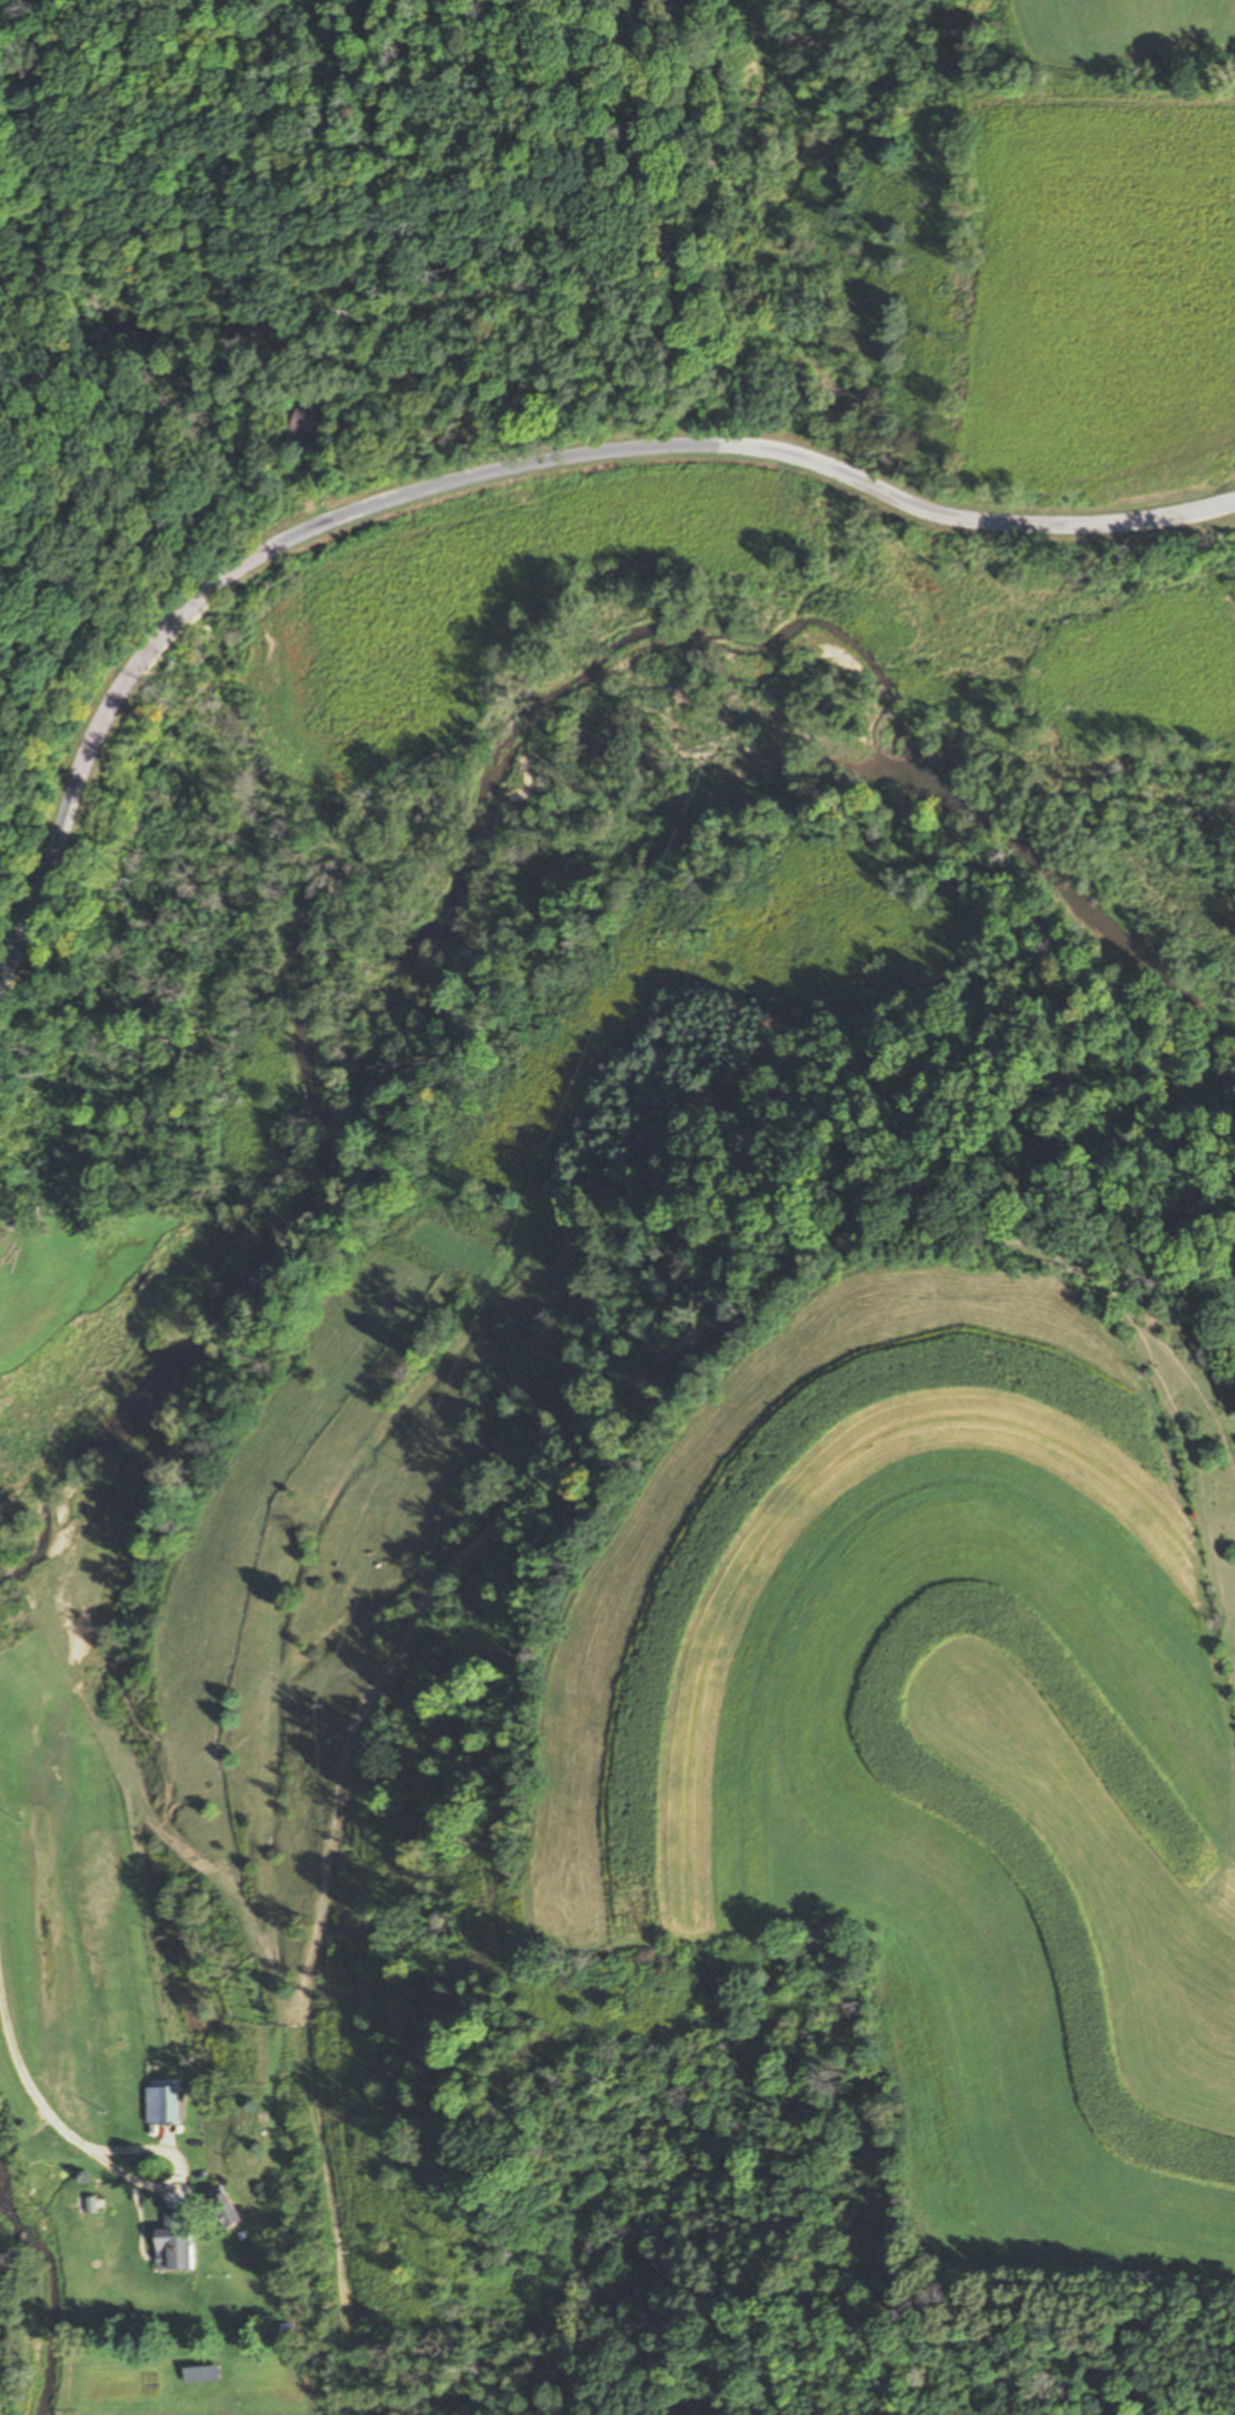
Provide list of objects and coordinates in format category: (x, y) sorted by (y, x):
building: (308, 423)
road: (486, 481)
road: (23, 2028)
building: (158, 2104)
building: (216, 2206)
building: (170, 2241)

